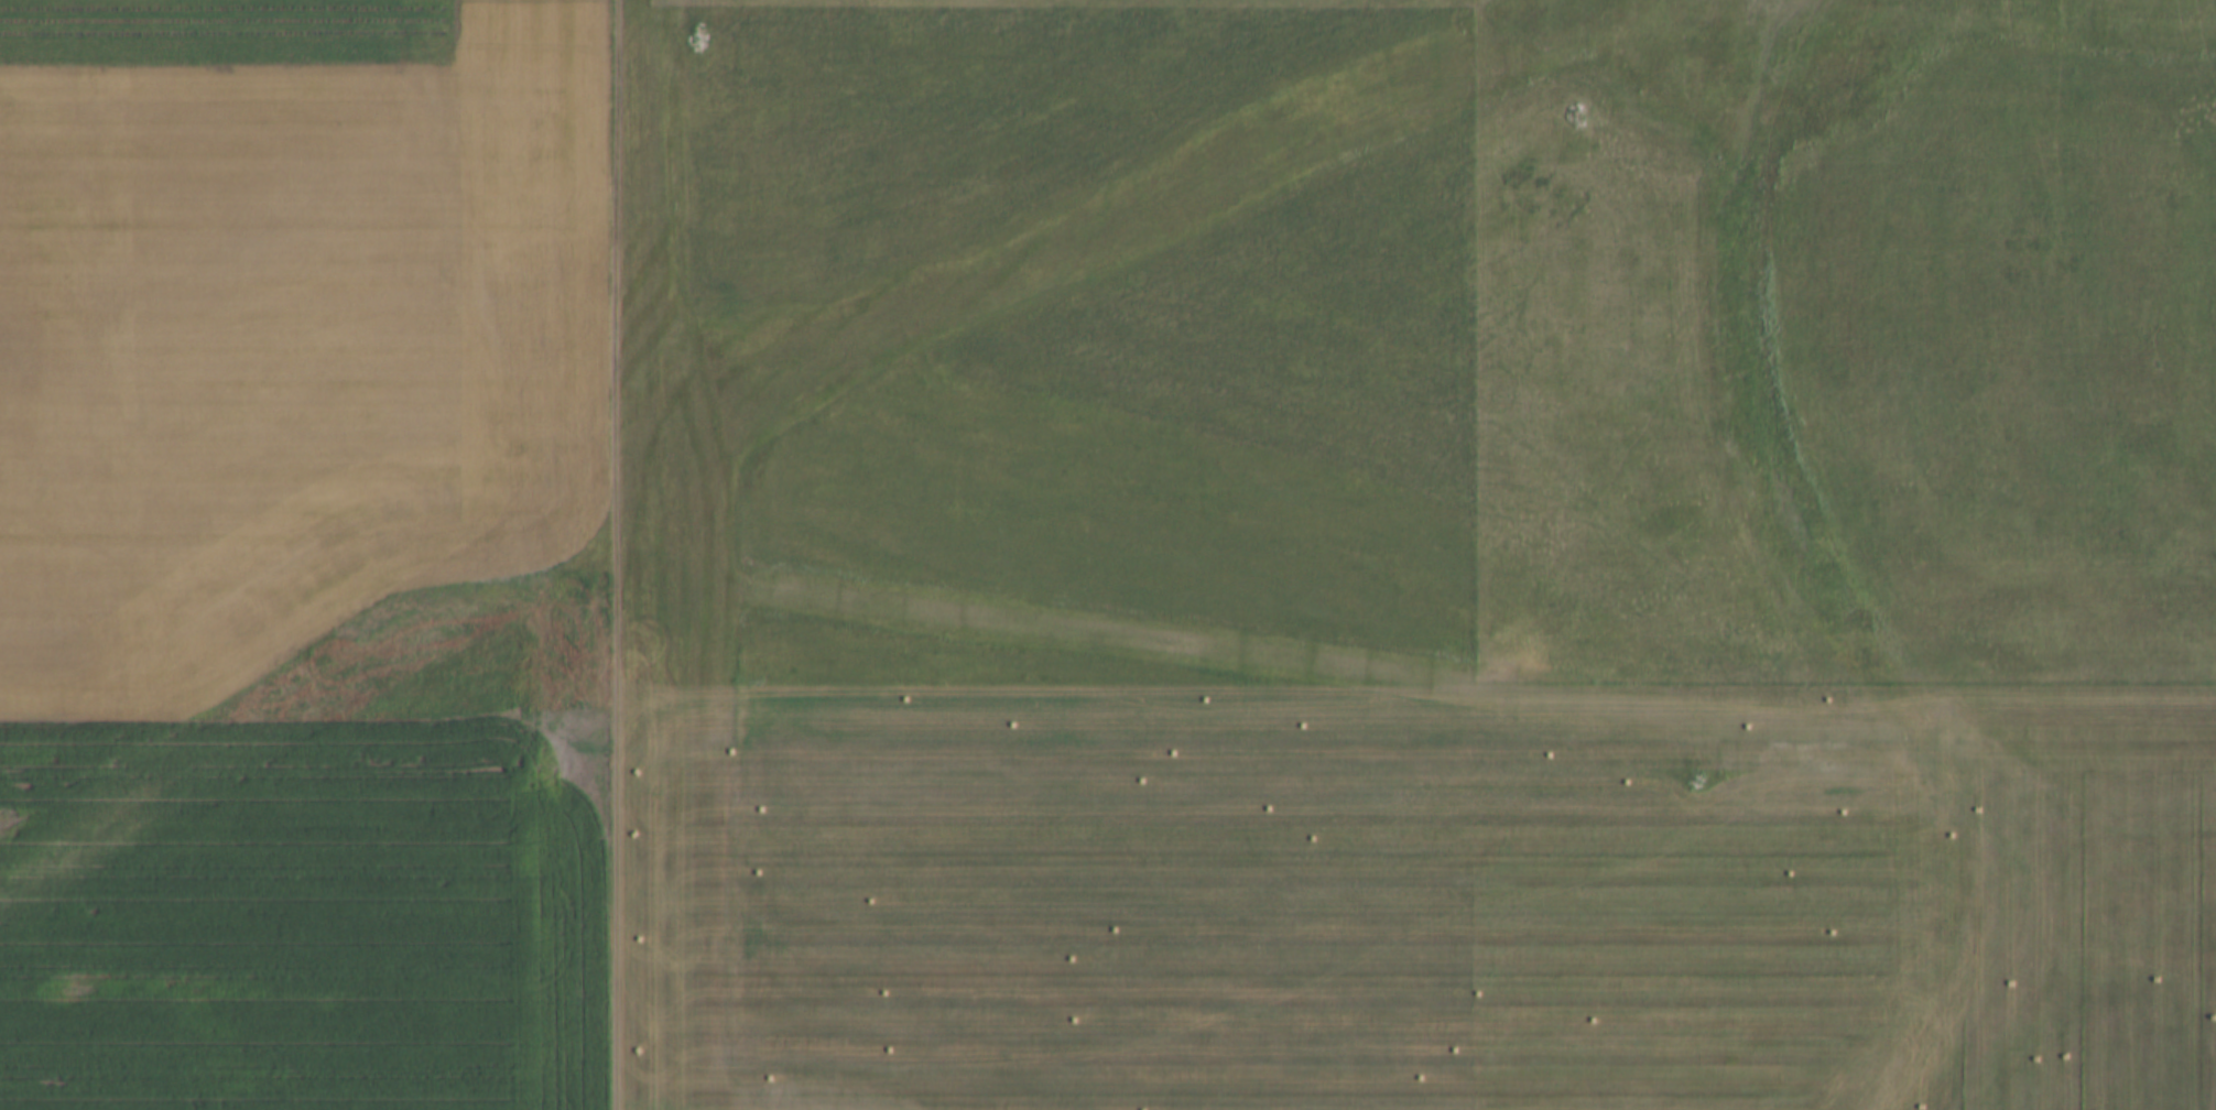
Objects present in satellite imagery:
quarry: (1498, 297)

